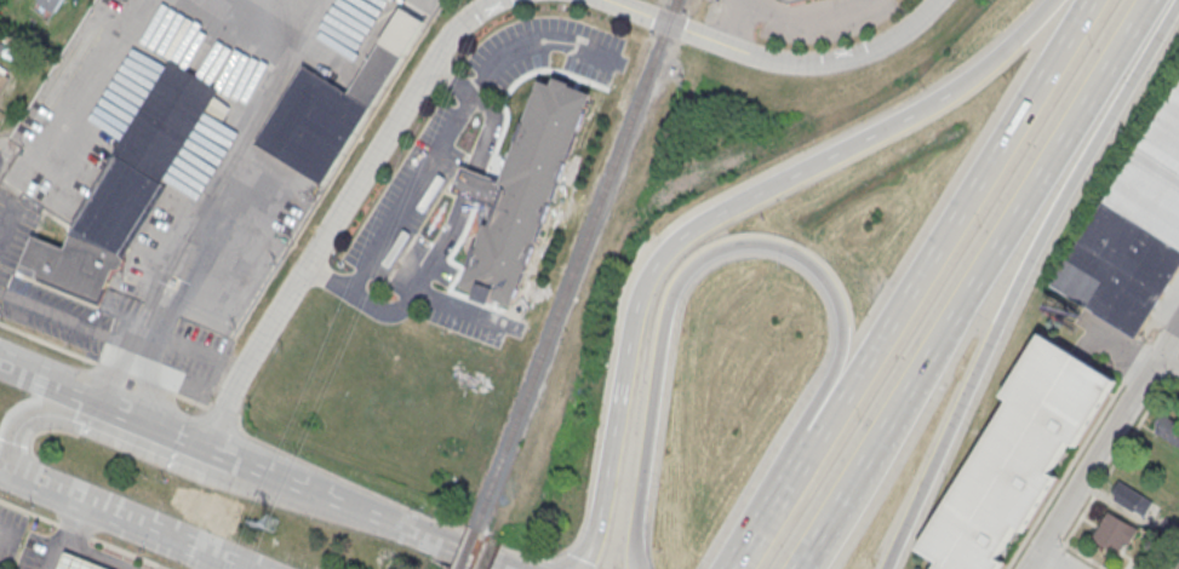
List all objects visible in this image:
building: (789, 0)
building: (50, 5)
road: (808, 21)
road: (733, 22)
road: (530, 44)
road: (1009, 47)
road: (774, 59)
building: (2, 80)
building: (334, 103)
road: (1, 131)
building: (126, 186)
building: (522, 188)
road: (414, 191)
road: (340, 212)
building: (1132, 230)
road: (756, 241)
road: (663, 252)
railway: (580, 266)
road: (1019, 280)
road: (972, 284)
road: (909, 286)
road: (51, 311)
road: (48, 338)
road: (114, 339)
road: (1167, 362)
road: (113, 364)
road: (132, 372)
road: (110, 374)
road: (46, 378)
road: (156, 381)
road: (193, 396)
road: (223, 408)
road: (161, 424)
building: (1169, 431)
road: (1100, 443)
road: (159, 452)
building: (1015, 456)
road: (1112, 460)
road: (12, 473)
road: (277, 473)
road: (345, 476)
traffic signals: (24, 479)
building: (1129, 499)
road: (121, 519)
power tower: (269, 519)
road: (387, 522)
road: (80, 524)
road: (88, 531)
building: (1114, 531)
parking lot: (10, 533)
road: (4, 534)
road: (482, 536)
road: (55, 551)
railway: (471, 551)
road: (520, 551)
road: (101, 554)
road: (1057, 557)
road: (1172, 558)
road: (475, 559)
building: (79, 562)
road: (554, 562)
road: (217, 564)
road: (229, 564)
building: (1178, 568)

